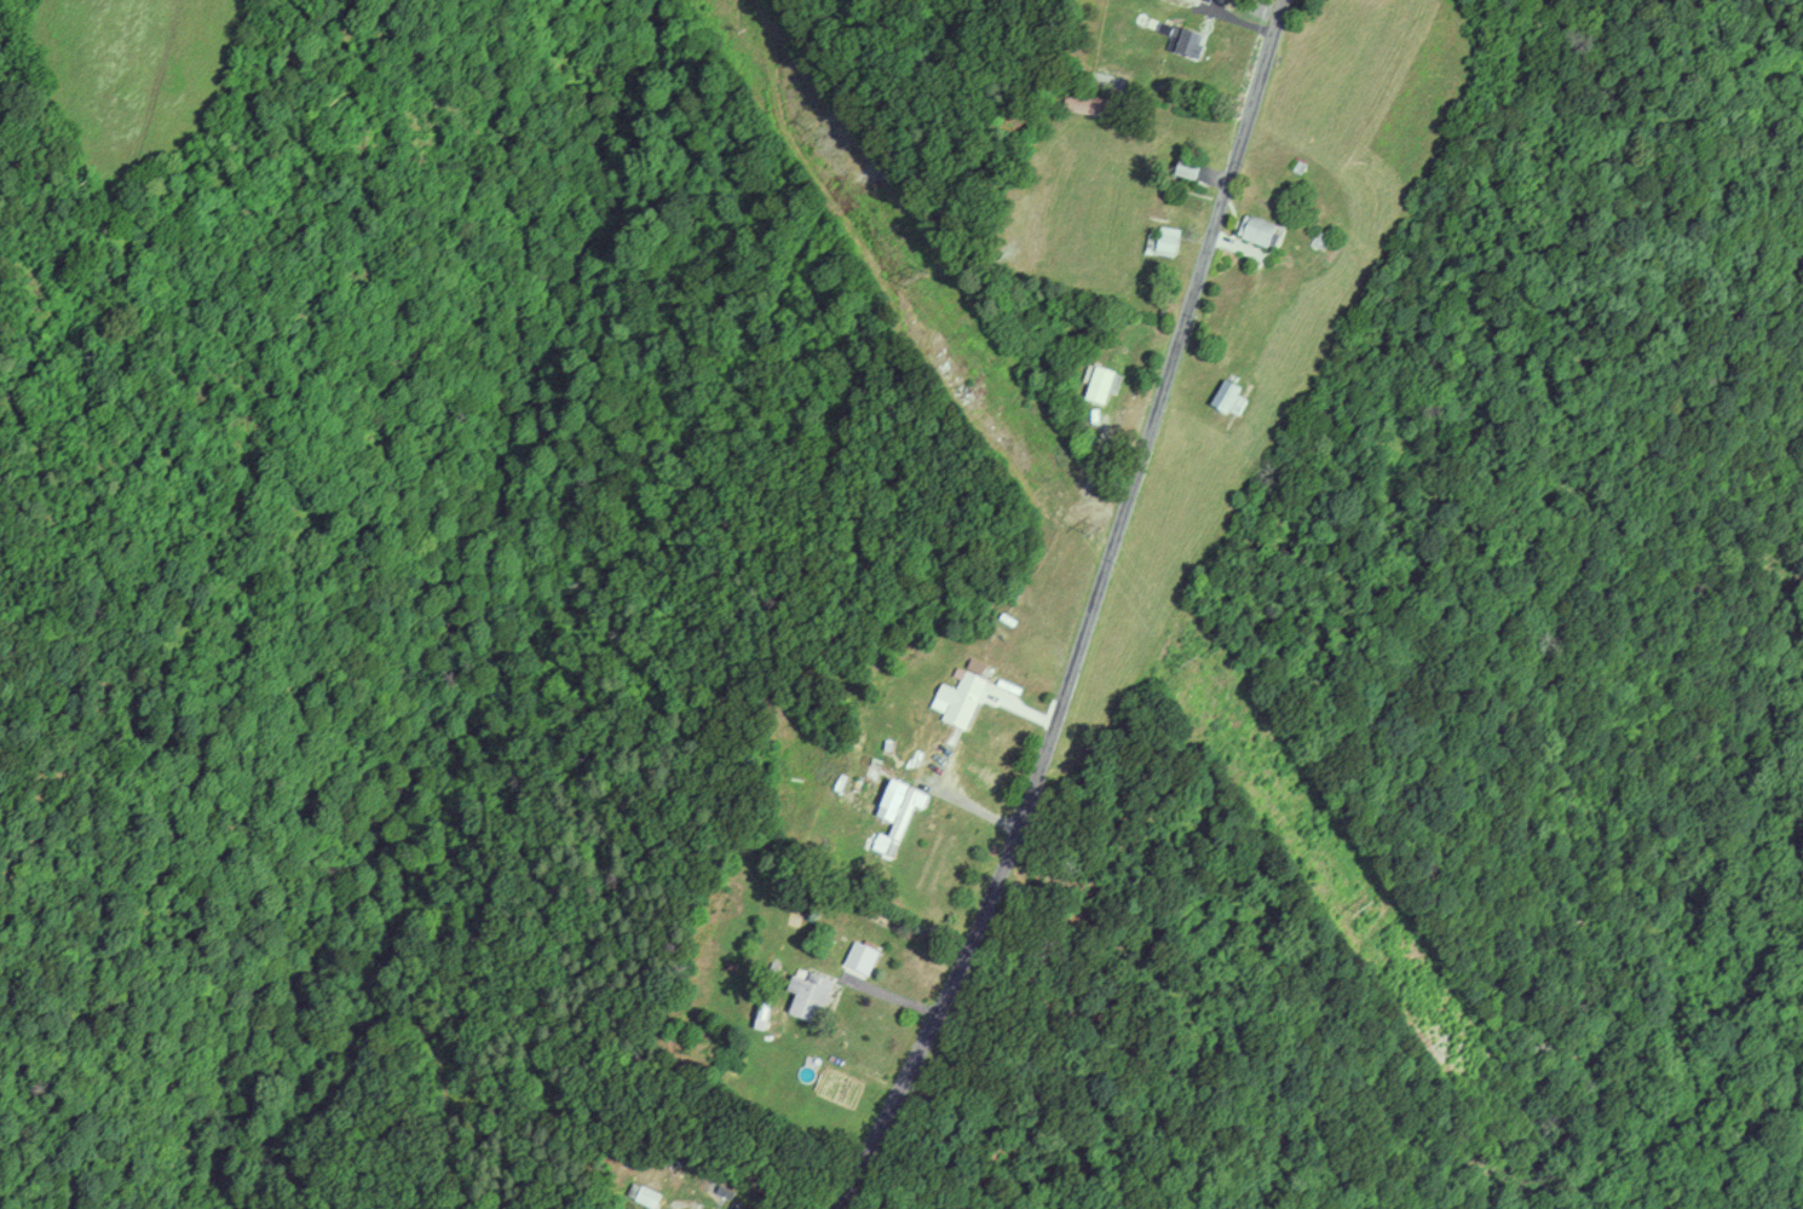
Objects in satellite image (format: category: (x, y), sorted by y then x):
building: (1189, 44)
building: (1088, 105)
building: (1187, 168)
building: (1258, 231)
building: (1168, 241)
road: (991, 261)
building: (1101, 386)
building: (1228, 397)
road: (1090, 617)
building: (958, 700)
building: (899, 802)
building: (810, 997)

